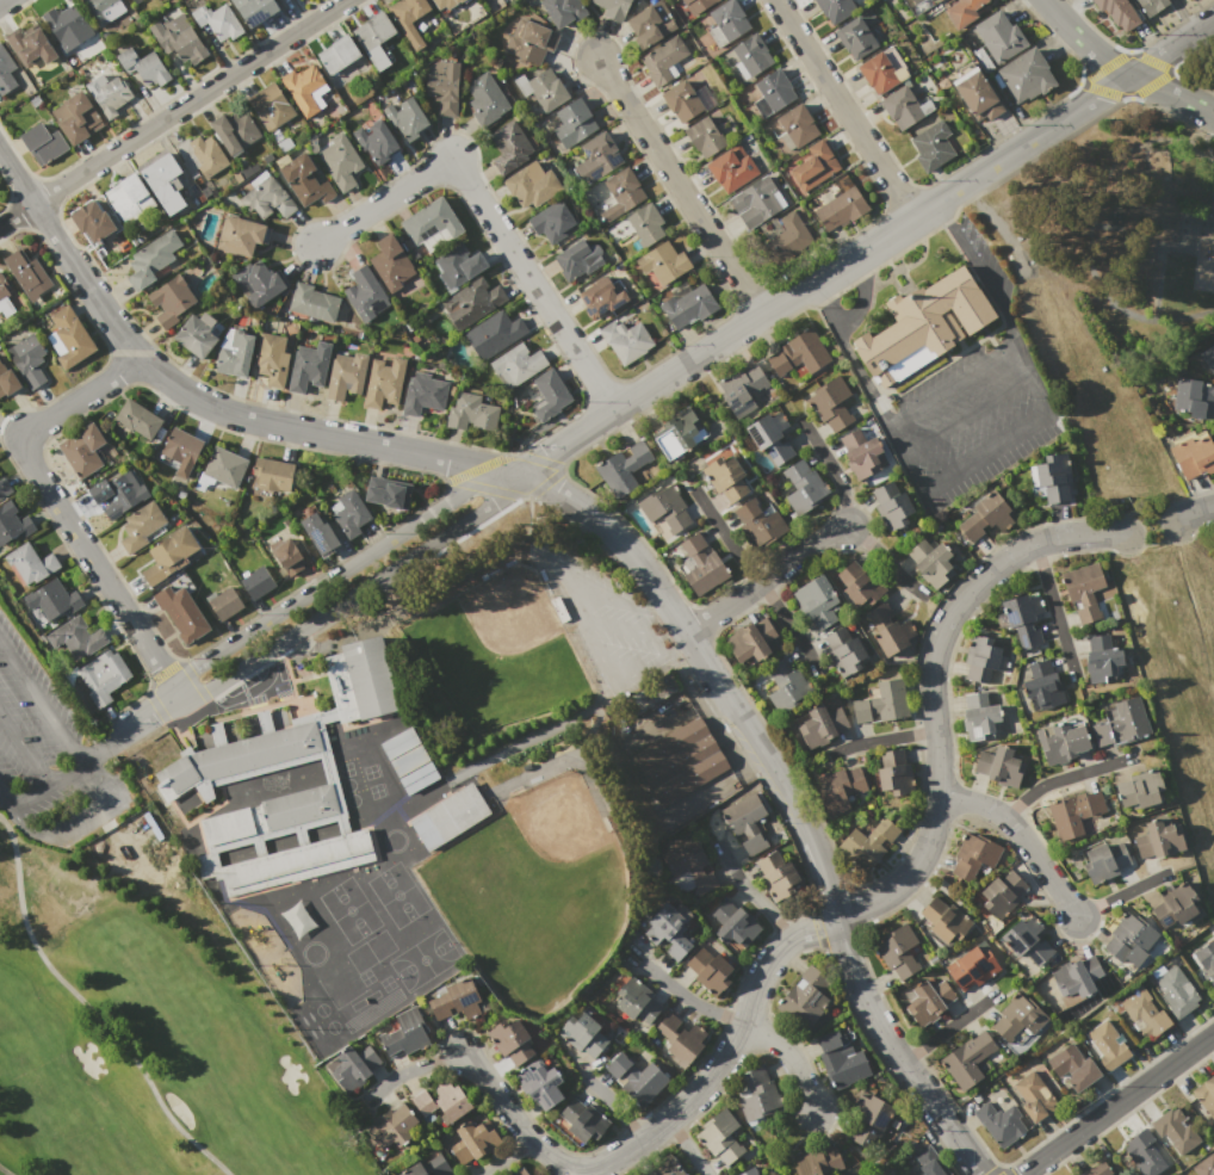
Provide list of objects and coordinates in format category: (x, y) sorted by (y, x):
building: (135, 1)
building: (917, 1)
road: (4, 2)
building: (445, 4)
building: (696, 6)
building: (1151, 6)
building: (612, 7)
building: (835, 8)
building: (104, 10)
building: (255, 10)
building: (563, 11)
building: (962, 11)
building: (1116, 12)
building: (408, 19)
building: (218, 21)
building: (726, 23)
building: (652, 24)
building: (66, 29)
building: (373, 31)
building: (999, 36)
building: (178, 37)
building: (856, 37)
building: (529, 42)
building: (32, 47)
building: (337, 54)
building: (752, 54)
building: (663, 58)
building: (143, 66)
road: (1120, 68)
building: (884, 70)
building: (6, 72)
building: (1026, 75)
building: (444, 86)
building: (304, 89)
building: (543, 89)
building: (773, 92)
building: (109, 94)
building: (977, 94)
building: (485, 100)
building: (686, 100)
building: (271, 106)
building: (904, 106)
road: (844, 107)
road: (172, 112)
building: (80, 118)
building: (407, 118)
building: (574, 123)
building: (795, 126)
building: (235, 131)
building: (705, 136)
building: (377, 141)
building: (43, 143)
building: (933, 146)
building: (510, 147)
building: (202, 154)
building: (597, 157)
building: (340, 162)
road: (645, 163)
building: (815, 166)
building: (735, 167)
building: (304, 180)
building: (165, 184)
building: (532, 185)
road: (679, 186)
building: (619, 193)
building: (129, 197)
building: (267, 197)
building: (756, 202)
building: (840, 208)
road: (941, 210)
road: (489, 216)
building: (92, 221)
building: (431, 222)
building: (553, 222)
building: (645, 225)
park: (1132, 233)
building: (239, 235)
building: (788, 239)
road: (863, 247)
building: (153, 259)
building: (578, 259)
building: (390, 264)
building: (661, 264)
building: (458, 266)
building: (27, 273)
building: (259, 283)
building: (366, 293)
building: (5, 297)
building: (601, 297)
building: (171, 301)
building: (312, 302)
building: (472, 303)
building: (687, 305)
building: (924, 326)
building: (197, 334)
building: (494, 334)
building: (70, 338)
building: (624, 340)
road: (1015, 346)
building: (234, 353)
building: (798, 354)
road: (848, 354)
building: (272, 358)
building: (1208, 359)
building: (27, 360)
building: (518, 365)
building: (308, 367)
building: (346, 375)
building: (7, 381)
building: (382, 385)
building: (741, 389)
building: (423, 394)
building: (550, 395)
parking lot: (958, 395)
building: (1193, 397)
road: (199, 400)
building: (829, 402)
road: (968, 412)
building: (471, 413)
building: (137, 419)
building: (683, 429)
building: (769, 438)
building: (180, 449)
building: (82, 451)
building: (862, 452)
road: (985, 453)
building: (1193, 454)
road: (830, 465)
building: (621, 468)
building: (222, 470)
building: (273, 475)
building: (726, 475)
building: (1052, 478)
building: (804, 486)
building: (4, 488)
building: (388, 493)
building: (117, 494)
building: (892, 505)
road: (57, 507)
building: (664, 509)
building: (349, 513)
road: (1194, 513)
building: (986, 515)
building: (757, 521)
building: (13, 522)
building: (141, 526)
road: (1151, 528)
building: (318, 532)
road: (875, 554)
building: (171, 555)
building: (290, 556)
building: (929, 561)
building: (30, 563)
building: (699, 564)
road: (566, 571)
road: (339, 574)
road: (751, 574)
road: (766, 576)
building: (255, 582)
building: (859, 583)
building: (1085, 592)
road: (353, 595)
building: (52, 600)
road: (619, 600)
building: (818, 601)
building: (224, 602)
road: (652, 605)
road: (1053, 605)
building: (181, 613)
building: (1023, 619)
road: (627, 626)
building: (888, 630)
building: (76, 638)
building: (752, 642)
road: (677, 643)
park: (498, 649)
building: (844, 649)
road: (601, 660)
building: (1101, 660)
building: (984, 661)
building: (104, 676)
building: (781, 684)
building: (1041, 685)
building: (645, 695)
road: (41, 699)
building: (879, 701)
road: (143, 716)
building: (979, 717)
building: (1117, 723)
building: (820, 725)
road: (881, 738)
building: (1061, 743)
road: (24, 746)
road: (95, 749)
parking lot: (49, 757)
building: (679, 760)
building: (421, 763)
building: (998, 766)
building: (224, 767)
building: (893, 772)
road: (1061, 777)
road: (45, 783)
building: (840, 789)
building: (1138, 792)
road: (788, 794)
road: (6, 797)
building: (743, 811)
building: (1077, 816)
road: (76, 817)
building: (447, 817)
building: (886, 828)
road: (1021, 835)
building: (1157, 840)
building: (752, 846)
building: (860, 848)
building: (974, 855)
building: (683, 856)
building: (1104, 861)
road: (911, 868)
building: (778, 874)
building: (701, 882)
park: (533, 893)
road: (751, 893)
road: (1121, 893)
building: (999, 895)
building: (1175, 909)
building: (942, 922)
building: (667, 923)
building: (730, 924)
building: (1128, 940)
building: (1027, 944)
building: (677, 948)
building: (899, 952)
building: (1206, 960)
building: (971, 967)
building: (708, 971)
park: (129, 977)
building: (1078, 981)
building: (1173, 991)
road: (690, 997)
building: (807, 997)
building: (927, 998)
building: (634, 1000)
building: (453, 1004)
building: (1142, 1013)
building: (665, 1021)
building: (1017, 1022)
road: (947, 1027)
building: (402, 1033)
building: (583, 1033)
building: (512, 1041)
building: (686, 1043)
building: (1105, 1045)
road: (788, 1055)
building: (842, 1057)
building: (970, 1062)
building: (617, 1064)
building: (353, 1065)
road: (408, 1068)
building: (1072, 1069)
building: (645, 1083)
building: (540, 1084)
building: (756, 1090)
road: (1108, 1091)
building: (1033, 1097)
building: (1206, 1097)
building: (422, 1102)
building: (452, 1103)
road: (1116, 1103)
road: (614, 1106)
road: (1128, 1112)
road: (512, 1115)
building: (582, 1118)
building: (998, 1120)
building: (869, 1121)
building: (391, 1128)
building: (1173, 1132)
building: (723, 1139)
building: (471, 1142)
road: (687, 1145)
building: (1144, 1154)
road: (506, 1156)
building: (817, 1161)
building: (923, 1163)
building: (436, 1164)
road: (998, 1164)
building: (1203, 1165)
building: (663, 1167)
building: (760, 1169)
building: (1100, 1169)
building: (414, 1170)
building: (524, 1171)
building: (894, 1173)

